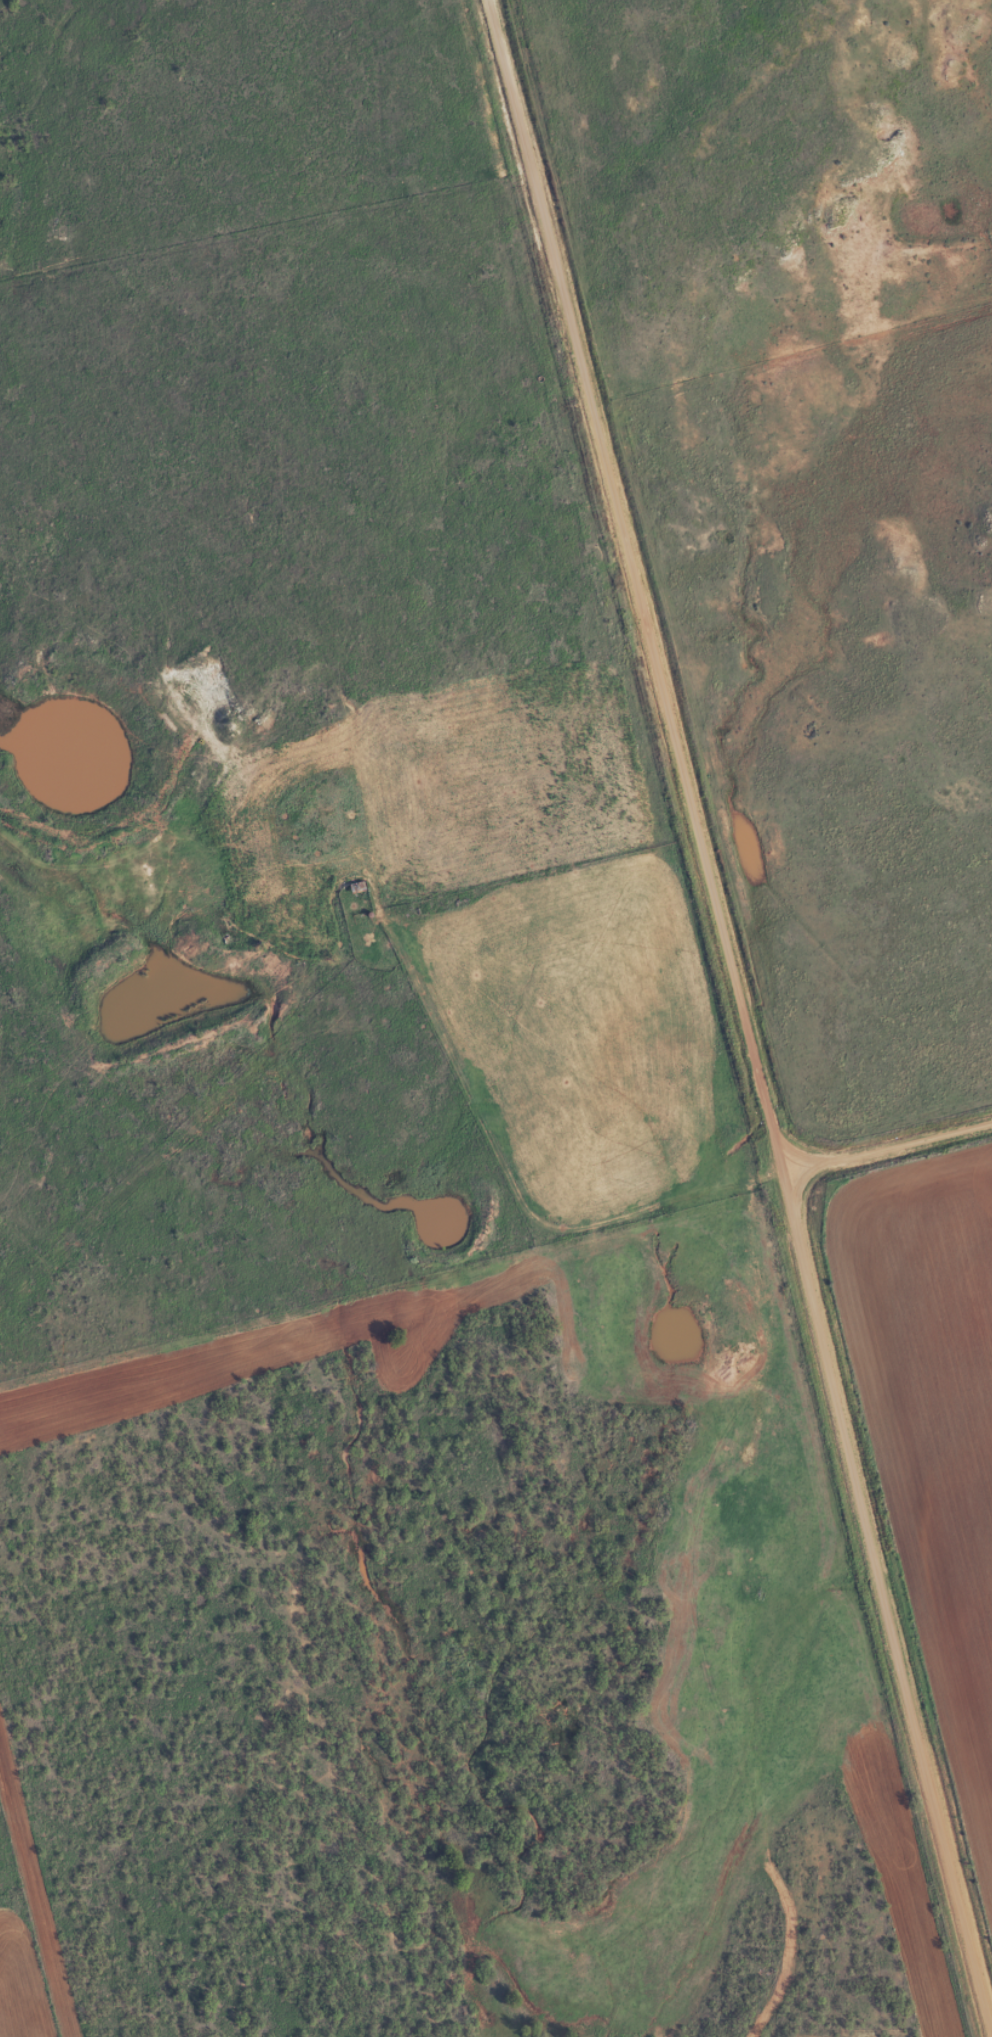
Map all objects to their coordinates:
road: (23, 41)
road: (740, 1017)
road: (883, 1130)

